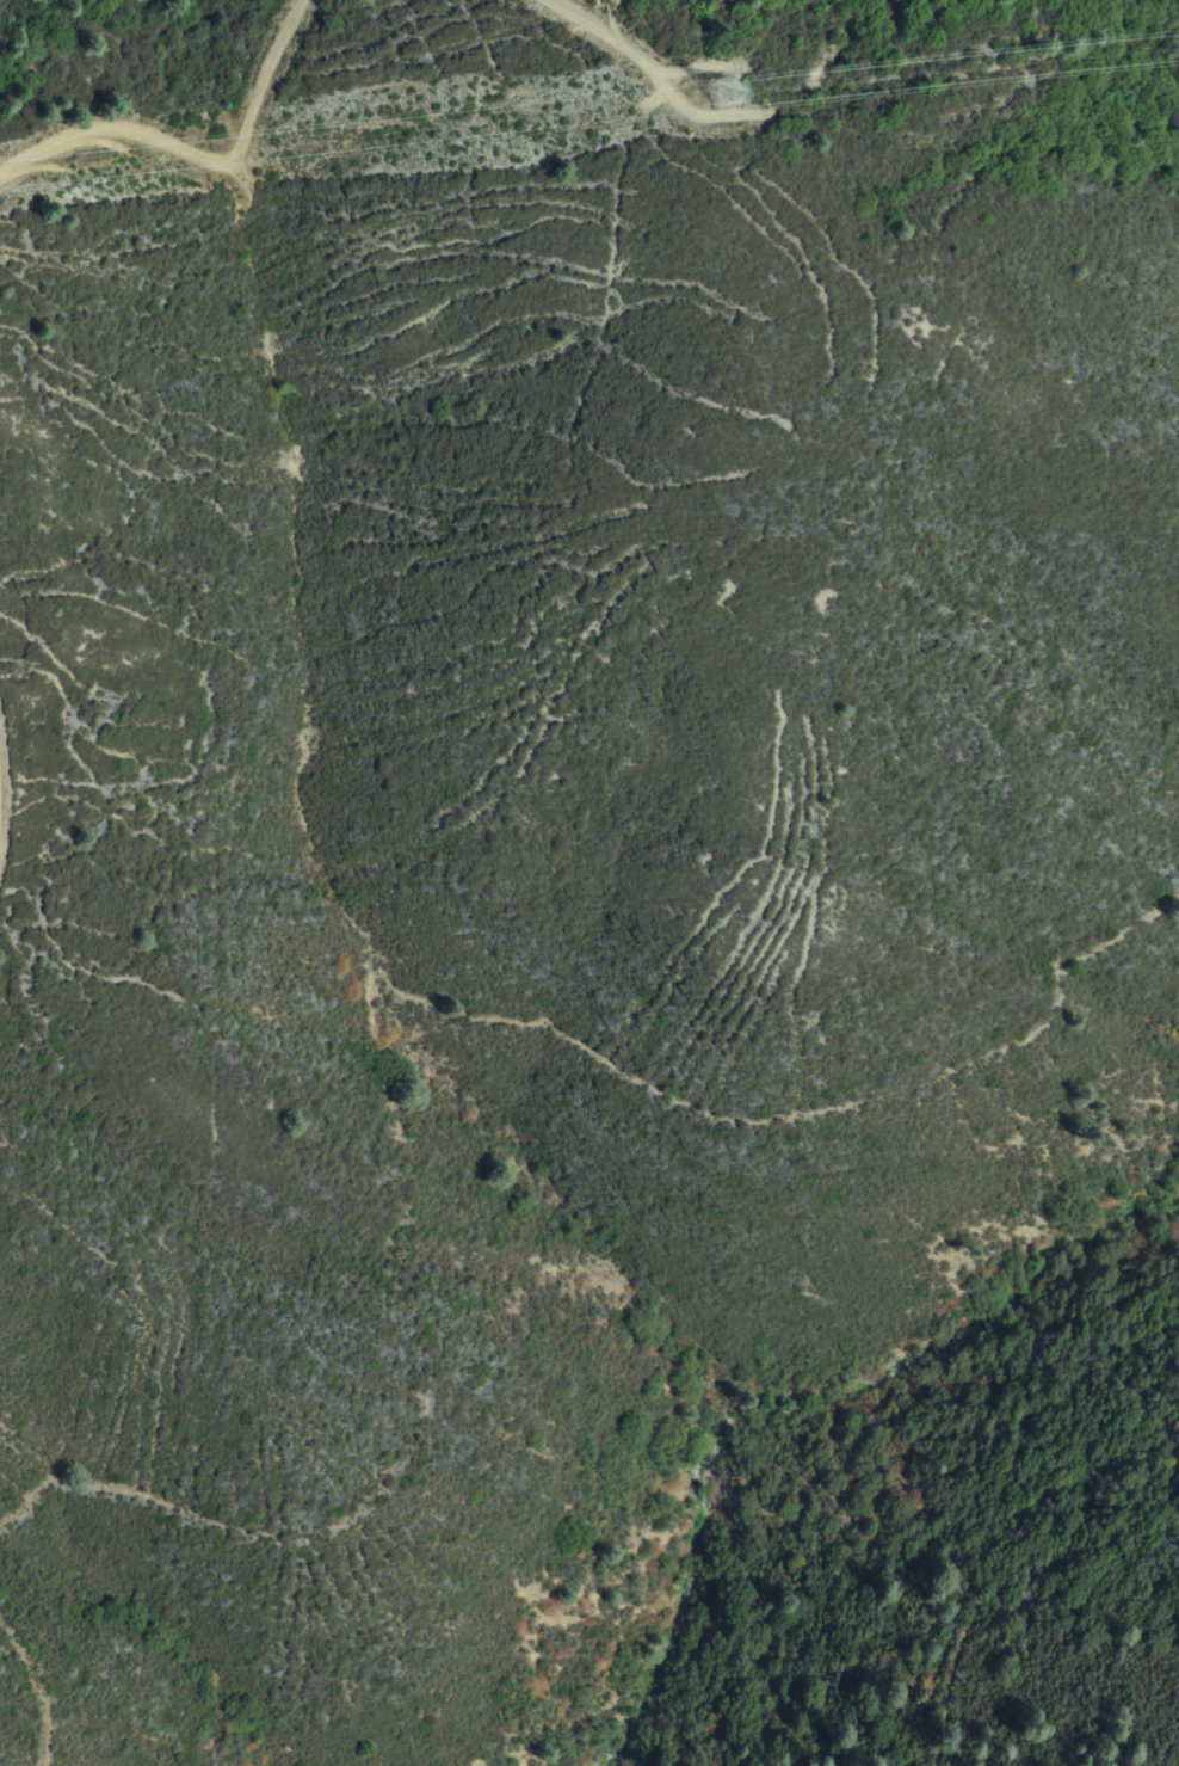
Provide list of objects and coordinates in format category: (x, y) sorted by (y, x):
power tower: (715, 93)

